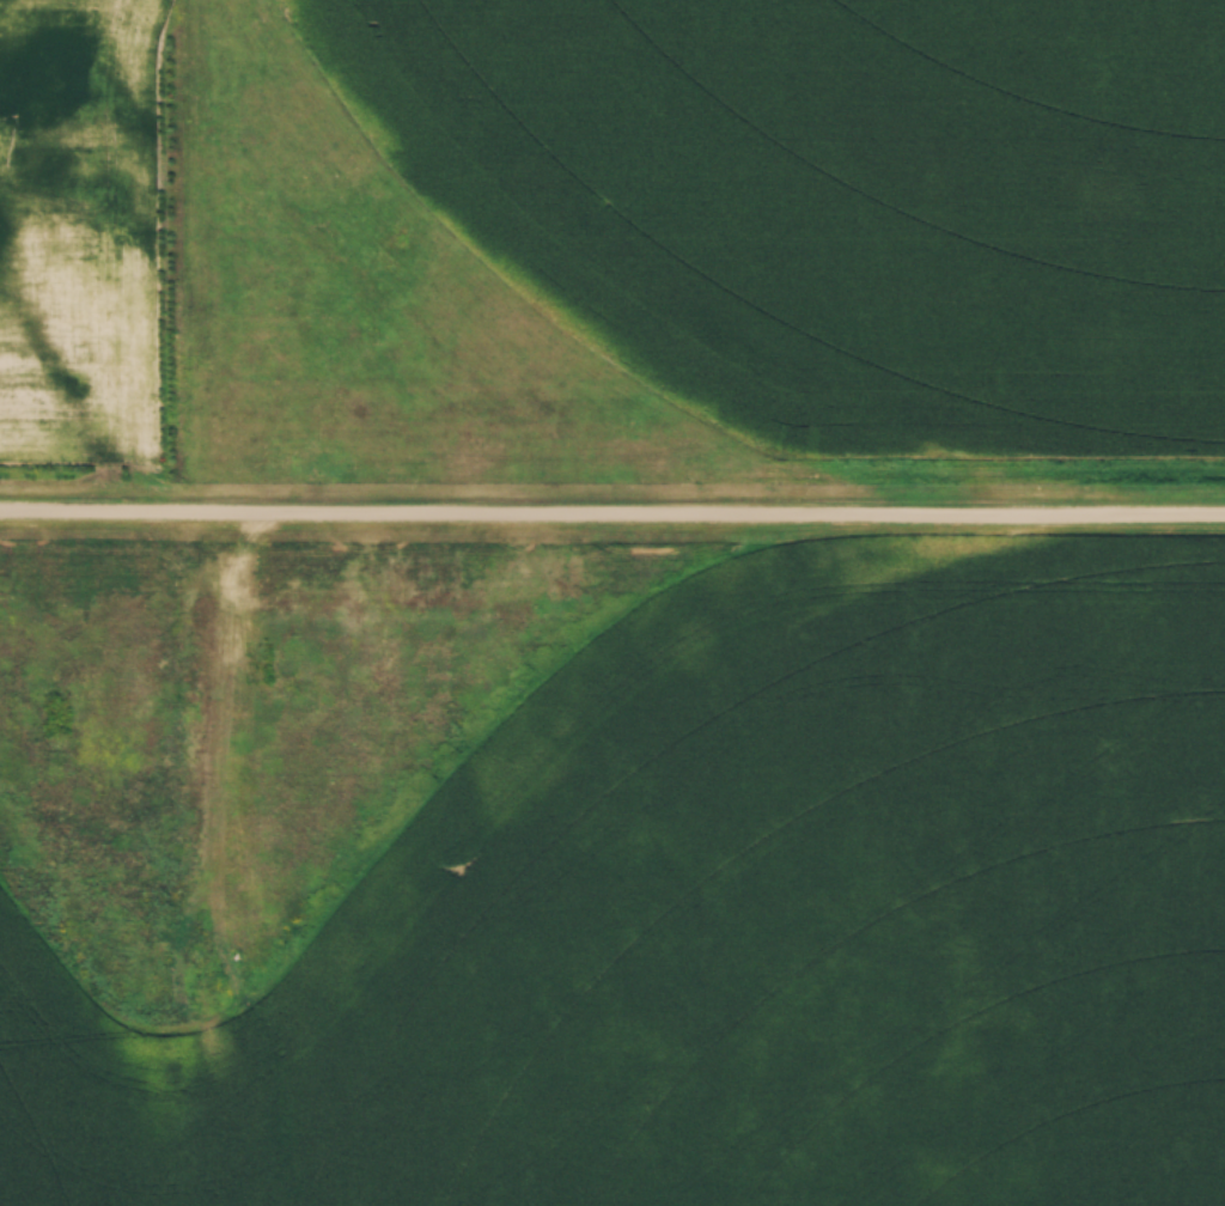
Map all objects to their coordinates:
road: (612, 523)

